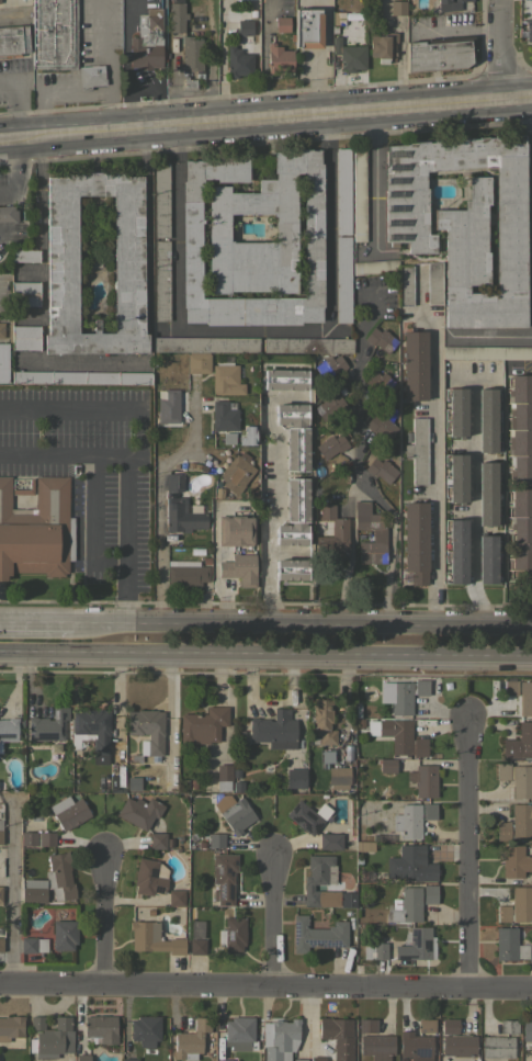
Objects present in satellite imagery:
building: (248, 0)
building: (448, 1)
building: (397, 7)
building: (176, 18)
building: (281, 23)
building: (307, 27)
building: (529, 30)
building: (54, 34)
building: (13, 41)
building: (146, 43)
road: (498, 45)
building: (382, 46)
building: (241, 49)
building: (191, 53)
building: (439, 53)
building: (349, 55)
building: (279, 58)
road: (105, 59)
building: (90, 76)
building: (188, 83)
road: (63, 98)
road: (15, 100)
road: (283, 108)
road: (19, 131)
road: (2, 132)
road: (531, 136)
road: (37, 157)
road: (15, 166)
road: (374, 177)
building: (342, 191)
building: (358, 194)
building: (160, 200)
building: (8, 213)
road: (173, 223)
building: (464, 223)
road: (5, 229)
building: (252, 242)
building: (24, 255)
building: (127, 257)
road: (42, 258)
building: (342, 279)
building: (160, 280)
building: (433, 282)
building: (404, 290)
building: (24, 293)
road: (329, 294)
building: (1, 330)
building: (25, 337)
road: (489, 338)
building: (380, 339)
building: (205, 343)
building: (308, 345)
building: (486, 351)
building: (2, 362)
building: (197, 363)
building: (414, 364)
building: (329, 366)
building: (80, 377)
building: (284, 379)
road: (465, 379)
building: (226, 380)
building: (380, 382)
building: (167, 406)
building: (329, 407)
building: (455, 411)
building: (291, 414)
building: (224, 415)
building: (486, 419)
building: (380, 426)
building: (520, 428)
road: (142, 434)
building: (330, 445)
building: (296, 449)
building: (417, 450)
road: (65, 454)
road: (354, 462)
building: (380, 469)
building: (236, 472)
building: (455, 477)
building: (174, 482)
road: (431, 483)
building: (487, 493)
road: (159, 496)
building: (297, 499)
road: (473, 501)
road: (97, 503)
road: (275, 510)
building: (183, 516)
building: (36, 530)
building: (235, 530)
building: (291, 534)
building: (332, 534)
building: (378, 535)
building: (521, 535)
building: (415, 541)
building: (455, 551)
building: (486, 558)
building: (239, 568)
building: (291, 568)
building: (185, 573)
road: (35, 622)
road: (302, 623)
road: (265, 655)
building: (510, 687)
building: (406, 695)
building: (524, 698)
building: (322, 720)
building: (202, 724)
building: (47, 725)
building: (8, 729)
building: (274, 730)
building: (91, 732)
building: (146, 732)
building: (403, 737)
building: (519, 742)
building: (327, 756)
building: (387, 765)
building: (223, 776)
building: (338, 777)
building: (294, 778)
building: (517, 778)
building: (423, 780)
building: (138, 811)
building: (68, 812)
building: (234, 812)
building: (304, 817)
building: (411, 819)
building: (1, 823)
building: (516, 823)
building: (37, 838)
building: (215, 839)
building: (157, 840)
building: (330, 840)
building: (363, 845)
road: (467, 853)
building: (514, 860)
building: (411, 864)
rooftop solar panel: (218, 869)
rooftop solar panel: (228, 871)
rooftop solar panel: (152, 872)
building: (59, 876)
building: (147, 877)
building: (223, 877)
building: (319, 881)
building: (34, 882)
road: (11, 890)
rooftop solar panel: (222, 890)
rooftop solar panel: (229, 890)
building: (0, 893)
building: (429, 893)
building: (33, 894)
building: (176, 898)
building: (406, 905)
building: (517, 905)
road: (271, 918)
road: (103, 919)
rooftop solar panel: (295, 929)
building: (231, 934)
building: (317, 934)
building: (64, 935)
rooftop solar panel: (229, 936)
building: (152, 938)
rooftop solar panel: (321, 941)
building: (419, 943)
building: (1, 944)
building: (33, 945)
building: (510, 945)
building: (196, 946)
building: (374, 950)
road: (265, 983)
building: (366, 1025)
building: (426, 1025)
building: (449, 1025)
building: (508, 1026)
building: (10, 1027)
building: (101, 1027)
building: (333, 1027)
building: (145, 1029)
building: (239, 1034)
building: (527, 1034)
building: (50, 1037)
building: (279, 1038)
building: (191, 1040)
building: (459, 1045)
building: (377, 1046)
building: (497, 1046)
building: (416, 1047)
rooftop solar panel: (421, 1051)
building: (82, 1058)
building: (129, 1059)
building: (317, 1059)
building: (225, 1060)
building: (299, 1060)

